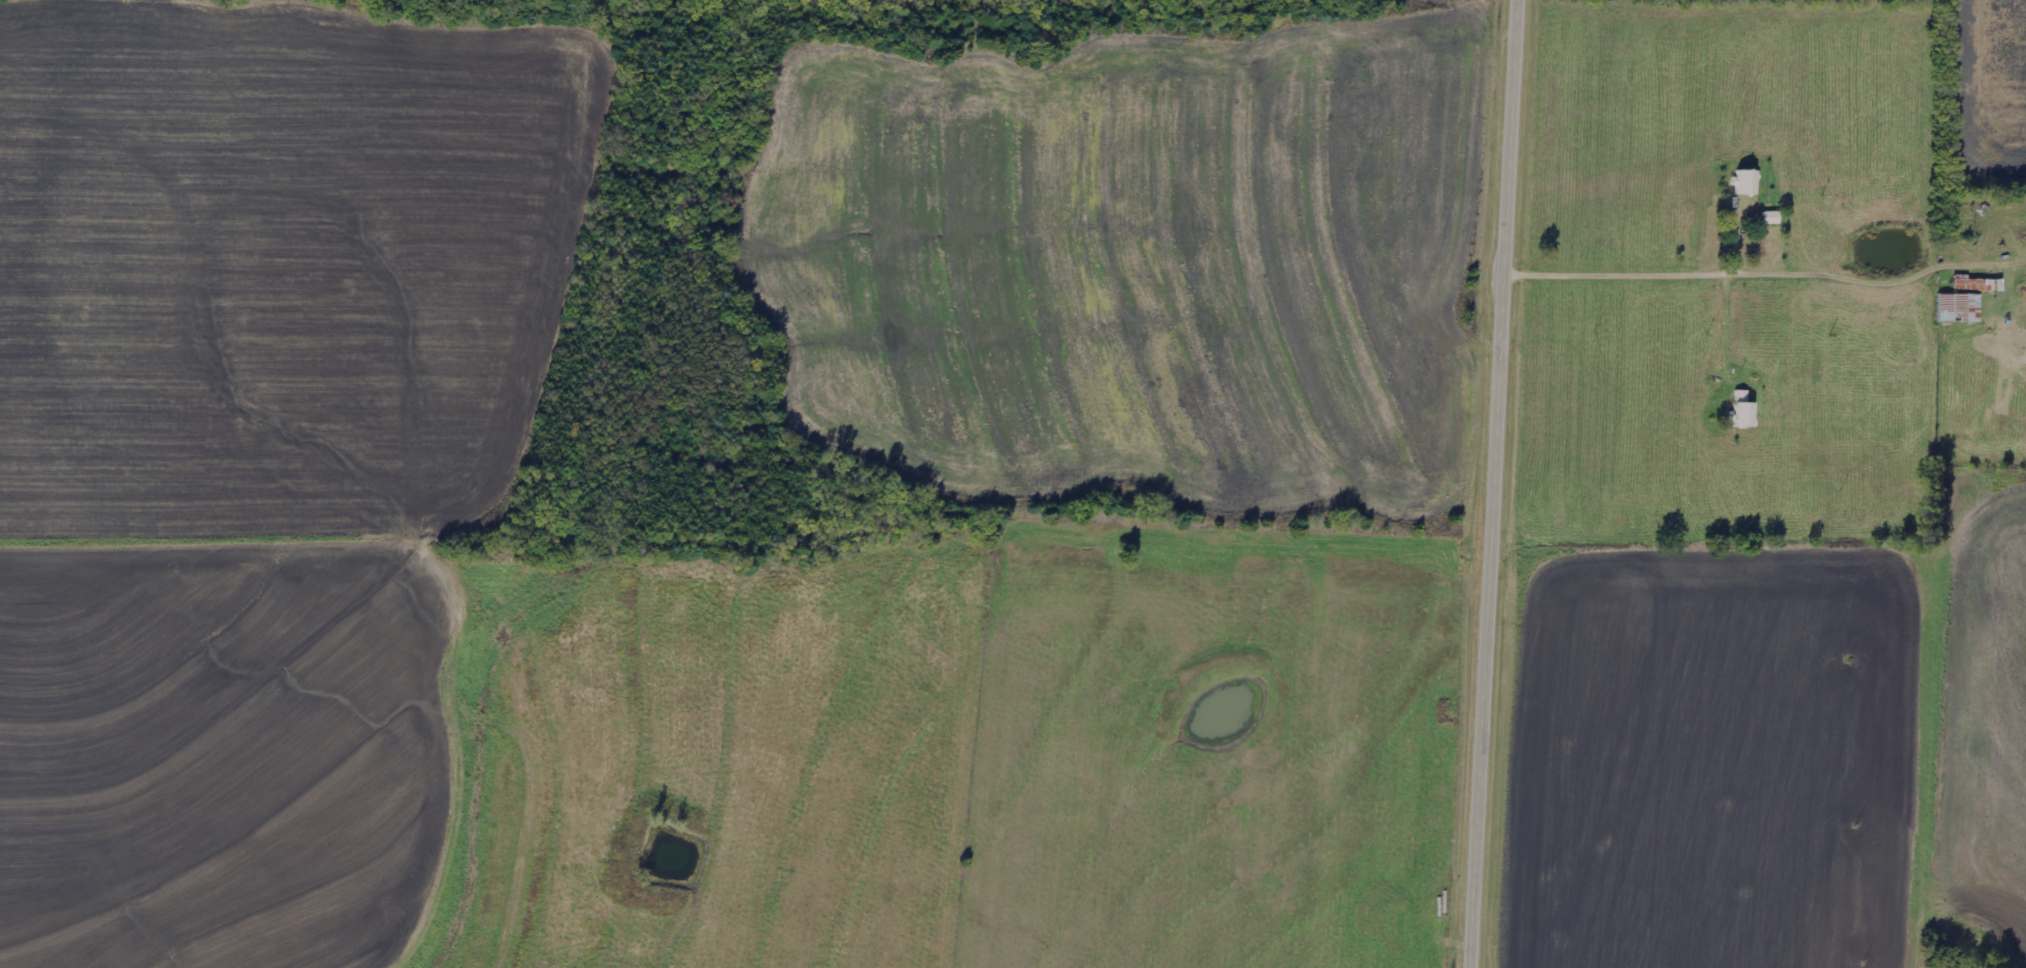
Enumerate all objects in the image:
building: (1774, 219)
building: (1981, 286)
road: (1495, 484)
road: (1963, 922)

